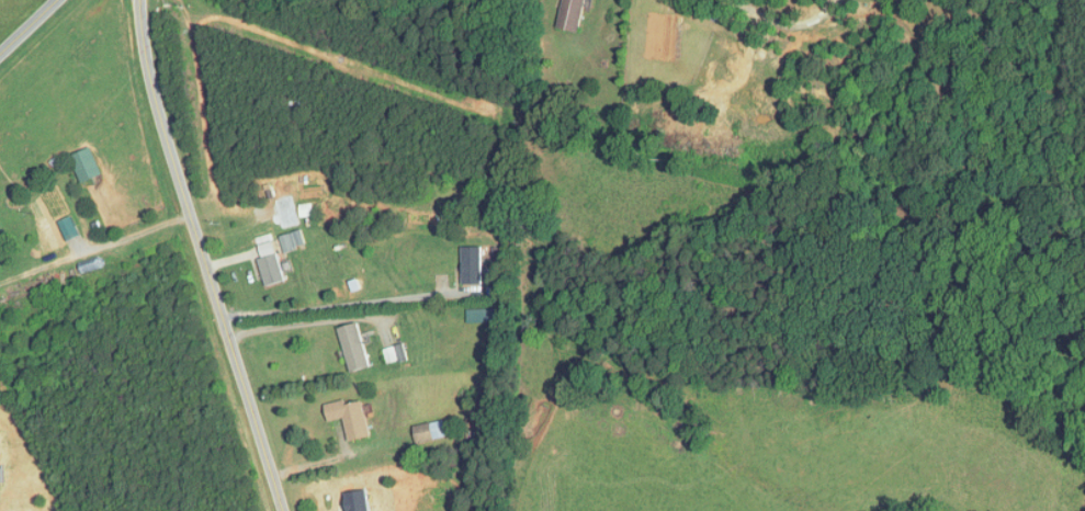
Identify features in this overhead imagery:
building: (570, 14)
road: (27, 26)
road: (376, 121)
building: (86, 164)
road: (203, 257)
building: (270, 265)
building: (470, 265)
building: (352, 348)
building: (394, 354)
building: (350, 418)
building: (429, 431)

